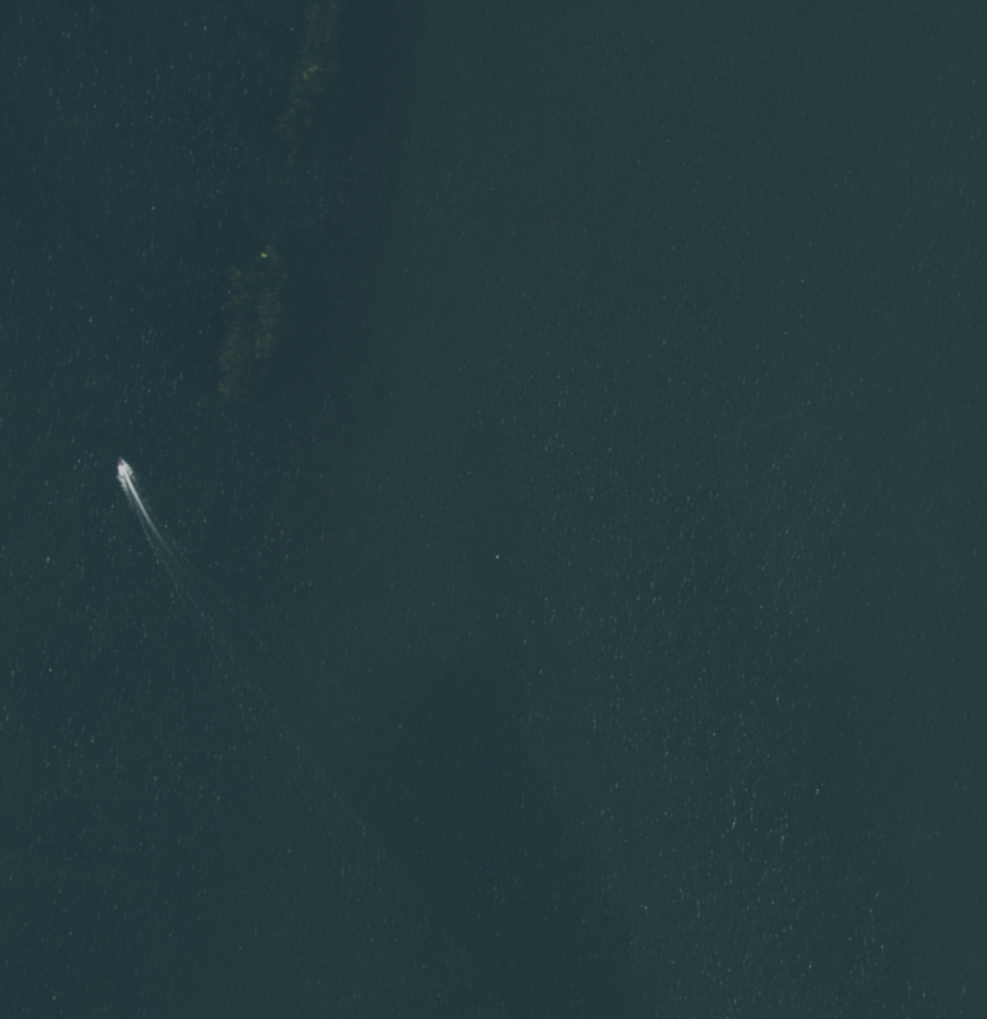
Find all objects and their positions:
river: (599, 334)
river: (803, 509)
river: (529, 844)

